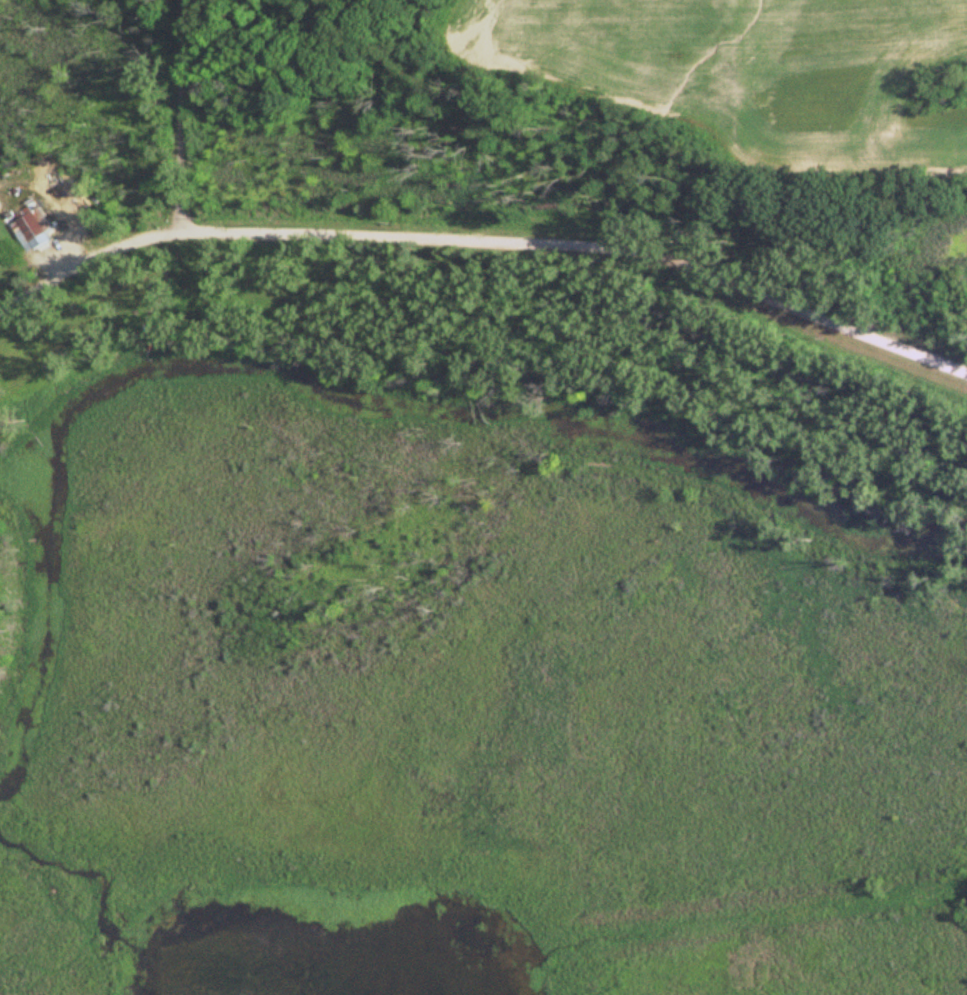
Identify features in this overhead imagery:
road: (181, 116)
building: (31, 228)
road: (484, 241)

